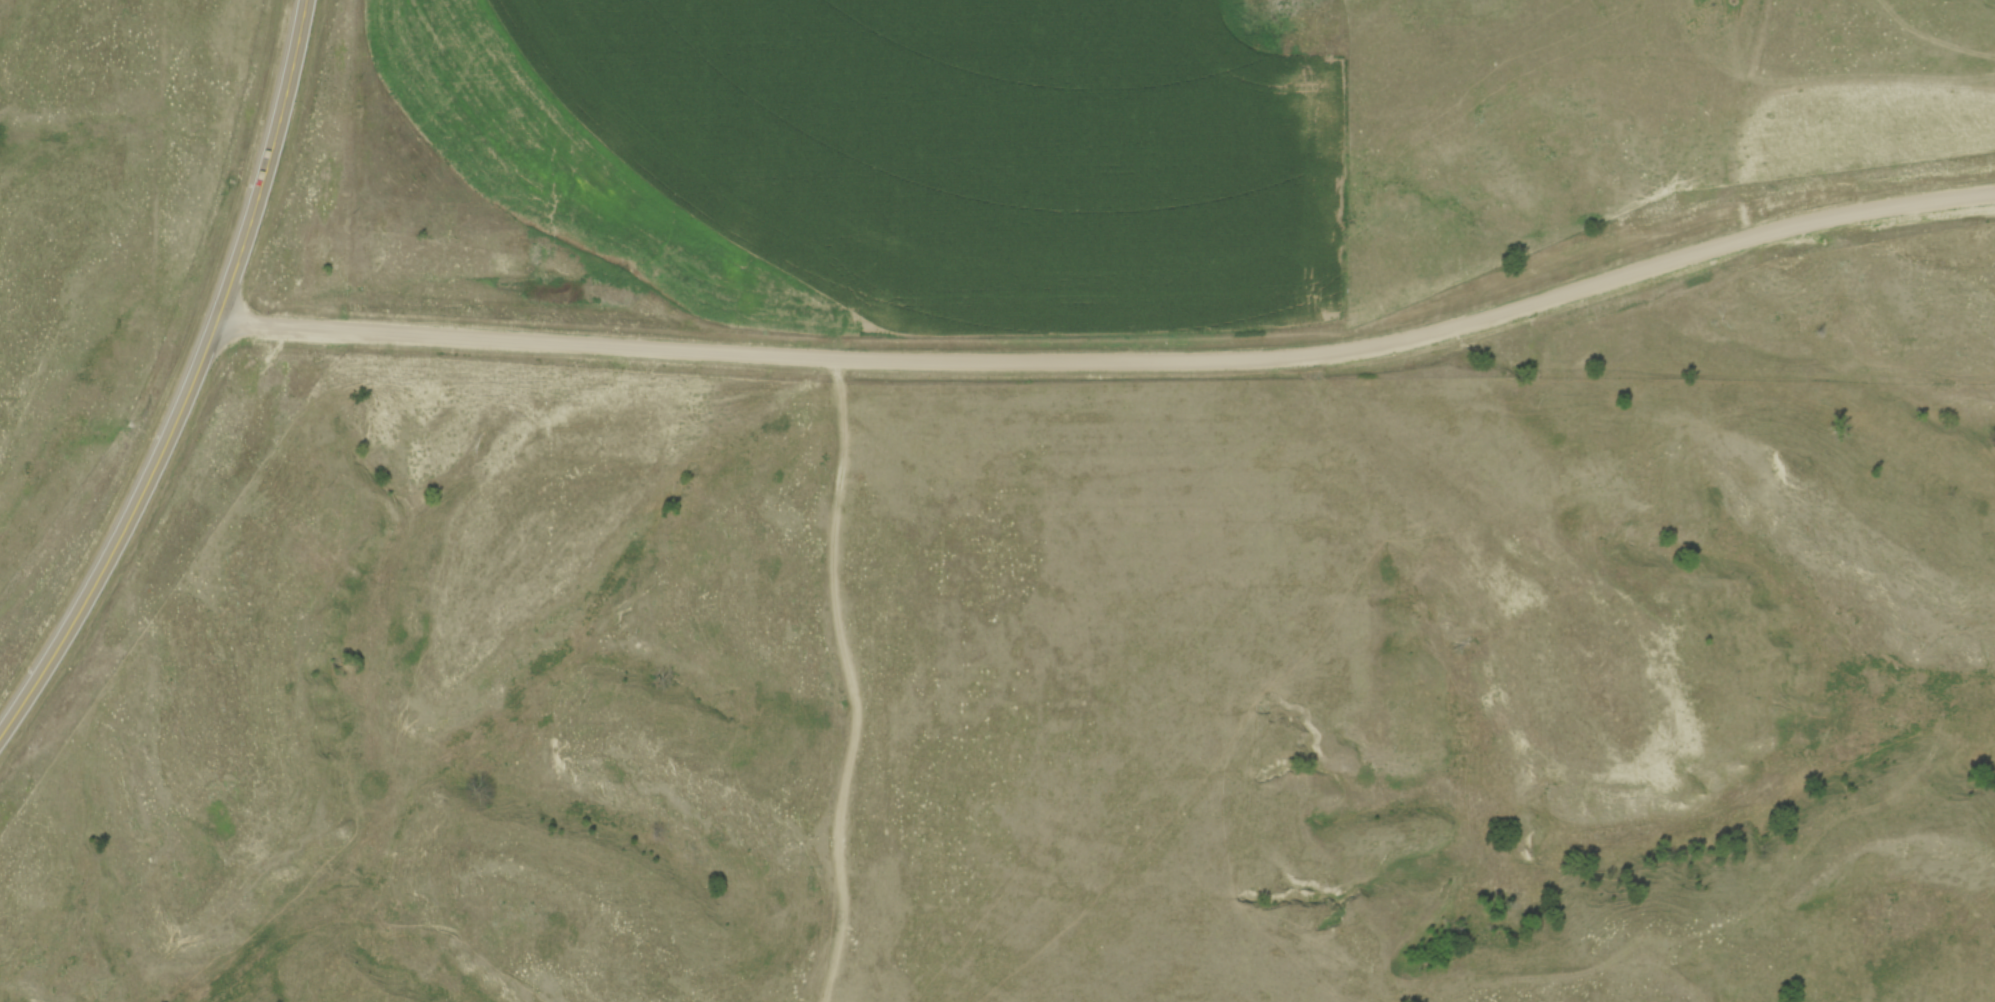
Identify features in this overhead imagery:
road: (1118, 359)
road: (196, 395)

